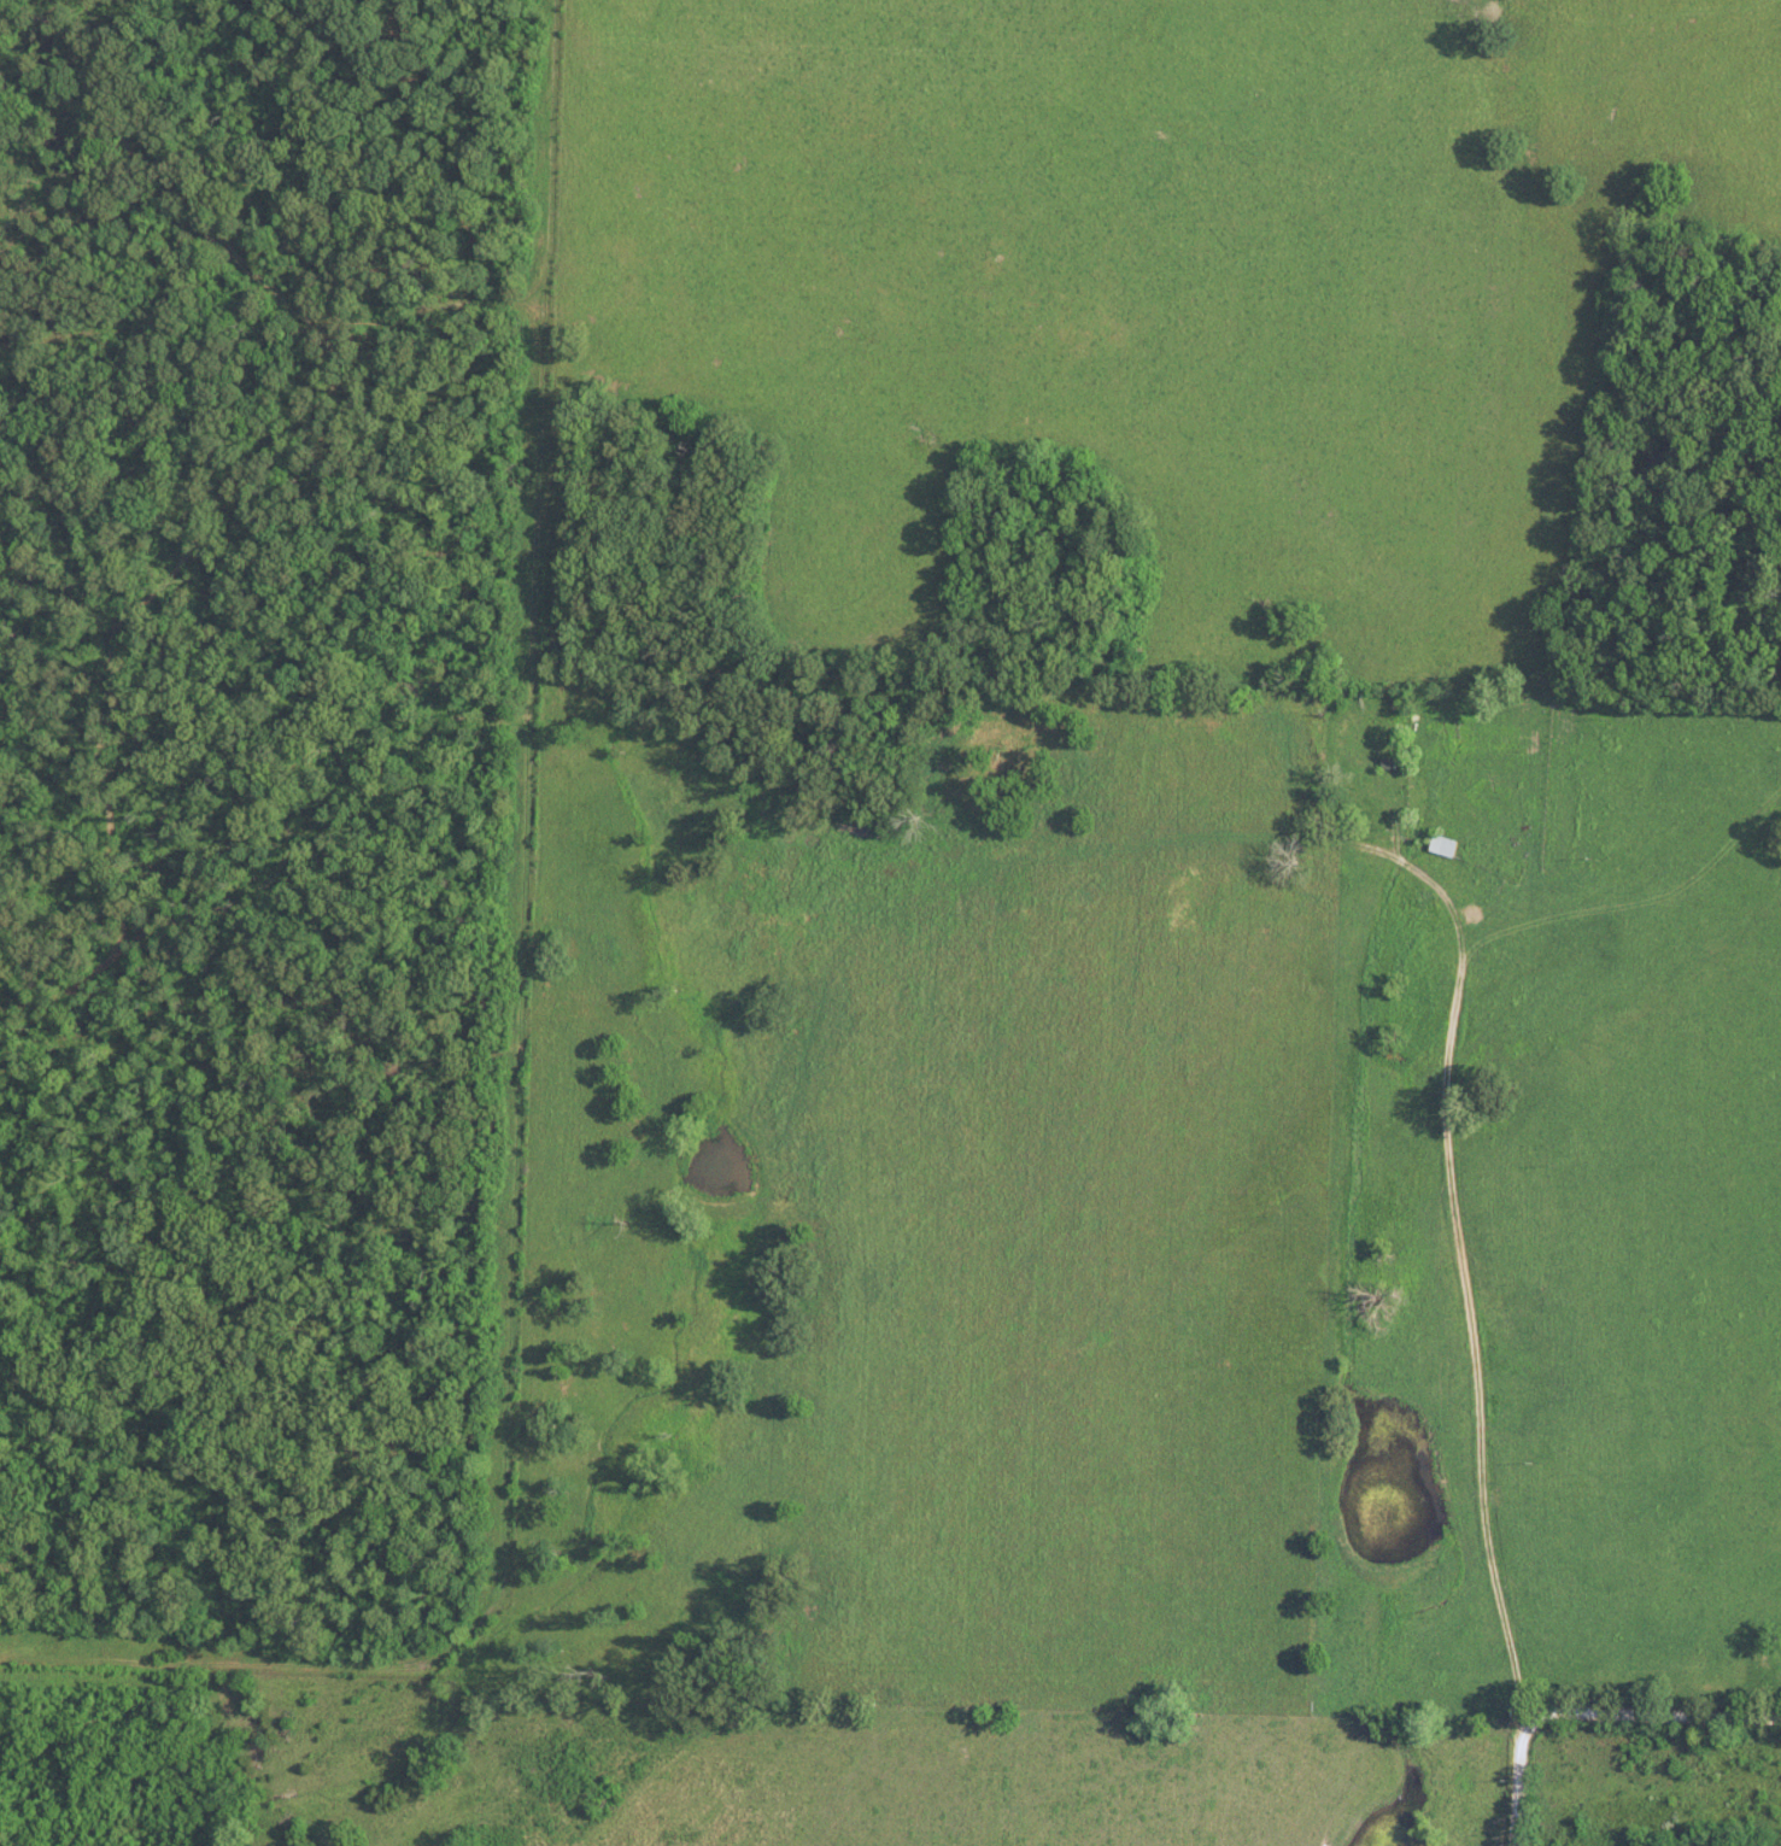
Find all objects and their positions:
building: (1364, 779)
building: (1443, 845)
road: (527, 1072)
road: (1461, 1255)
road: (1651, 1718)
road: (1518, 1780)

